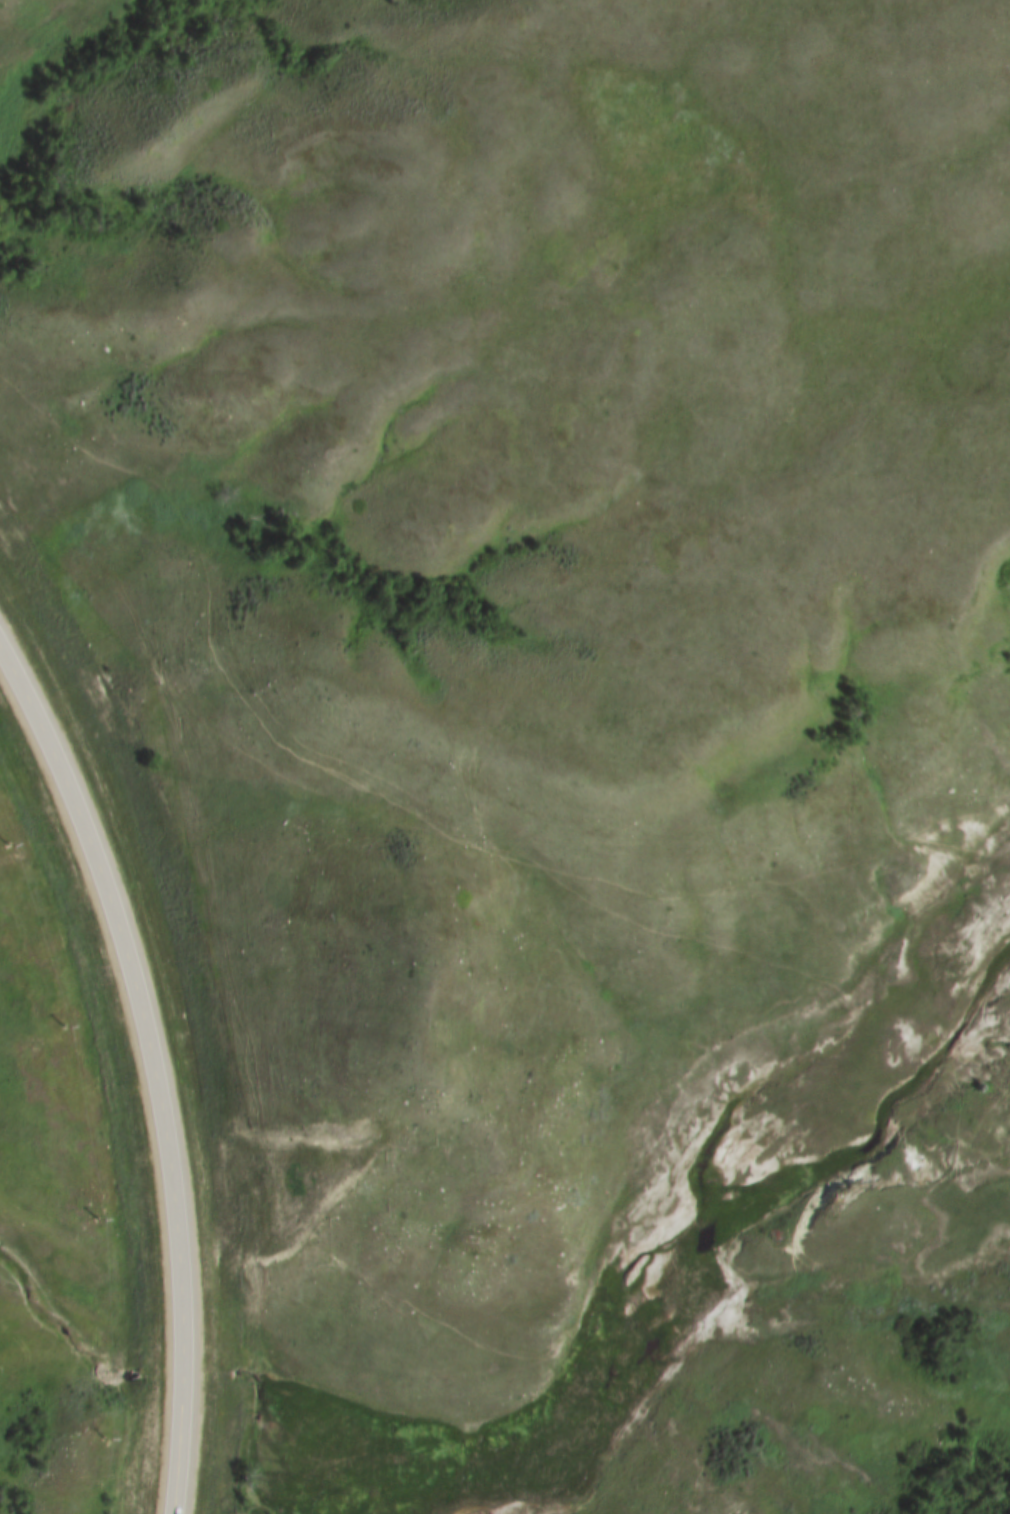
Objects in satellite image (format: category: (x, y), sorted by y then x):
road: (155, 1068)

